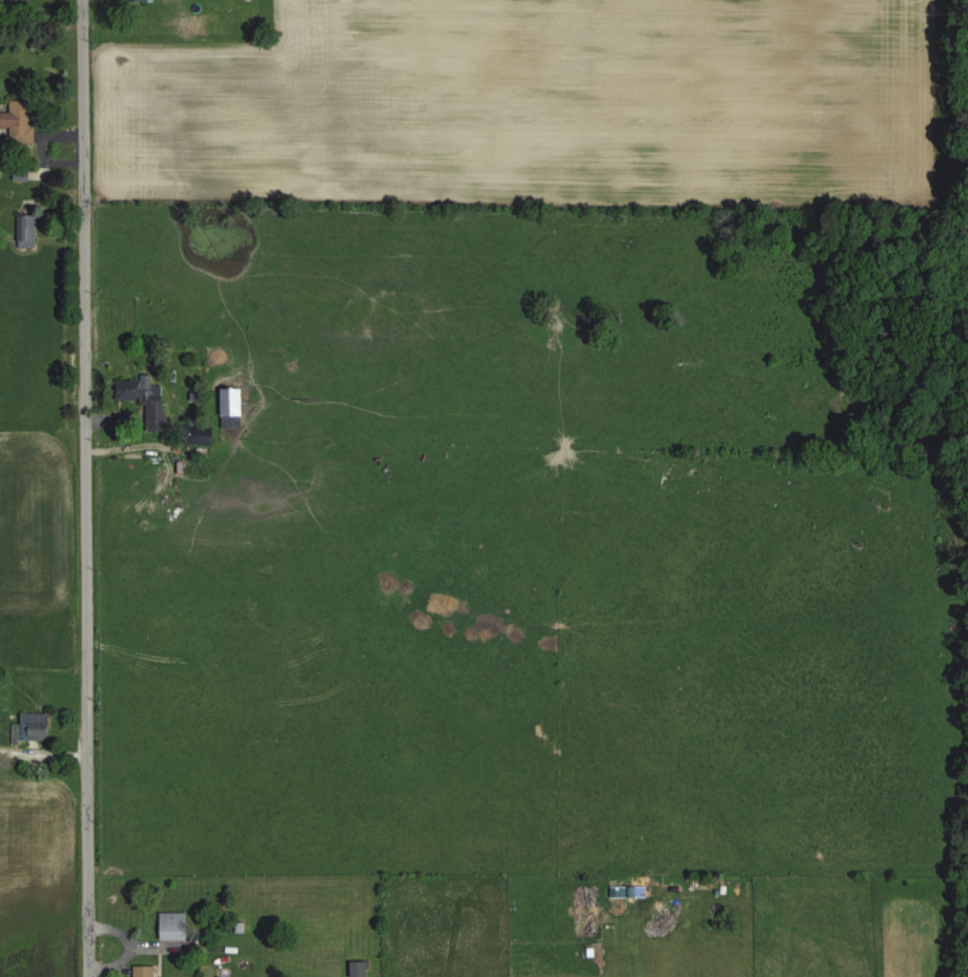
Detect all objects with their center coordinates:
building: (135, 1)
building: (16, 122)
building: (18, 176)
building: (24, 232)
building: (143, 399)
building: (227, 406)
road: (84, 488)
building: (29, 727)
building: (170, 926)
building: (355, 969)
building: (141, 971)

